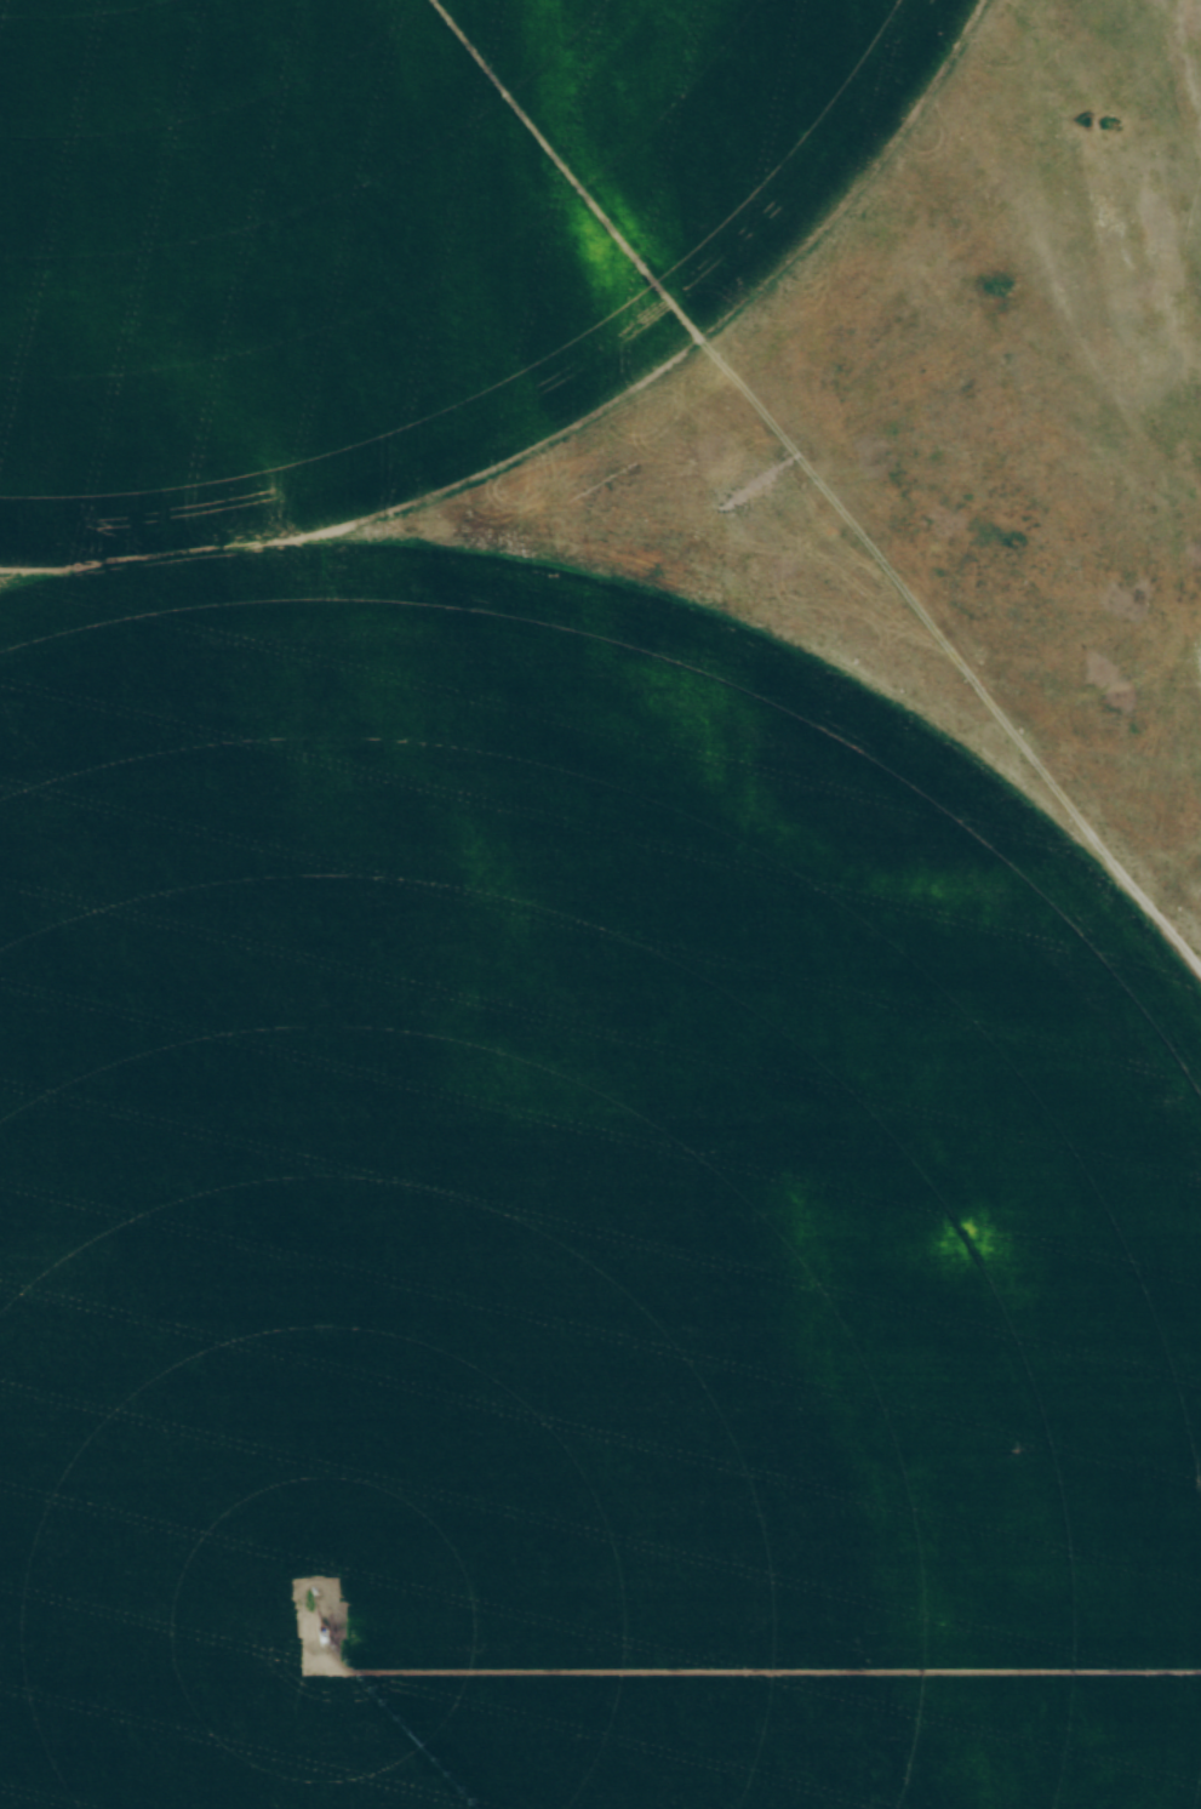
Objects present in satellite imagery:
crop: (526, 1005)

